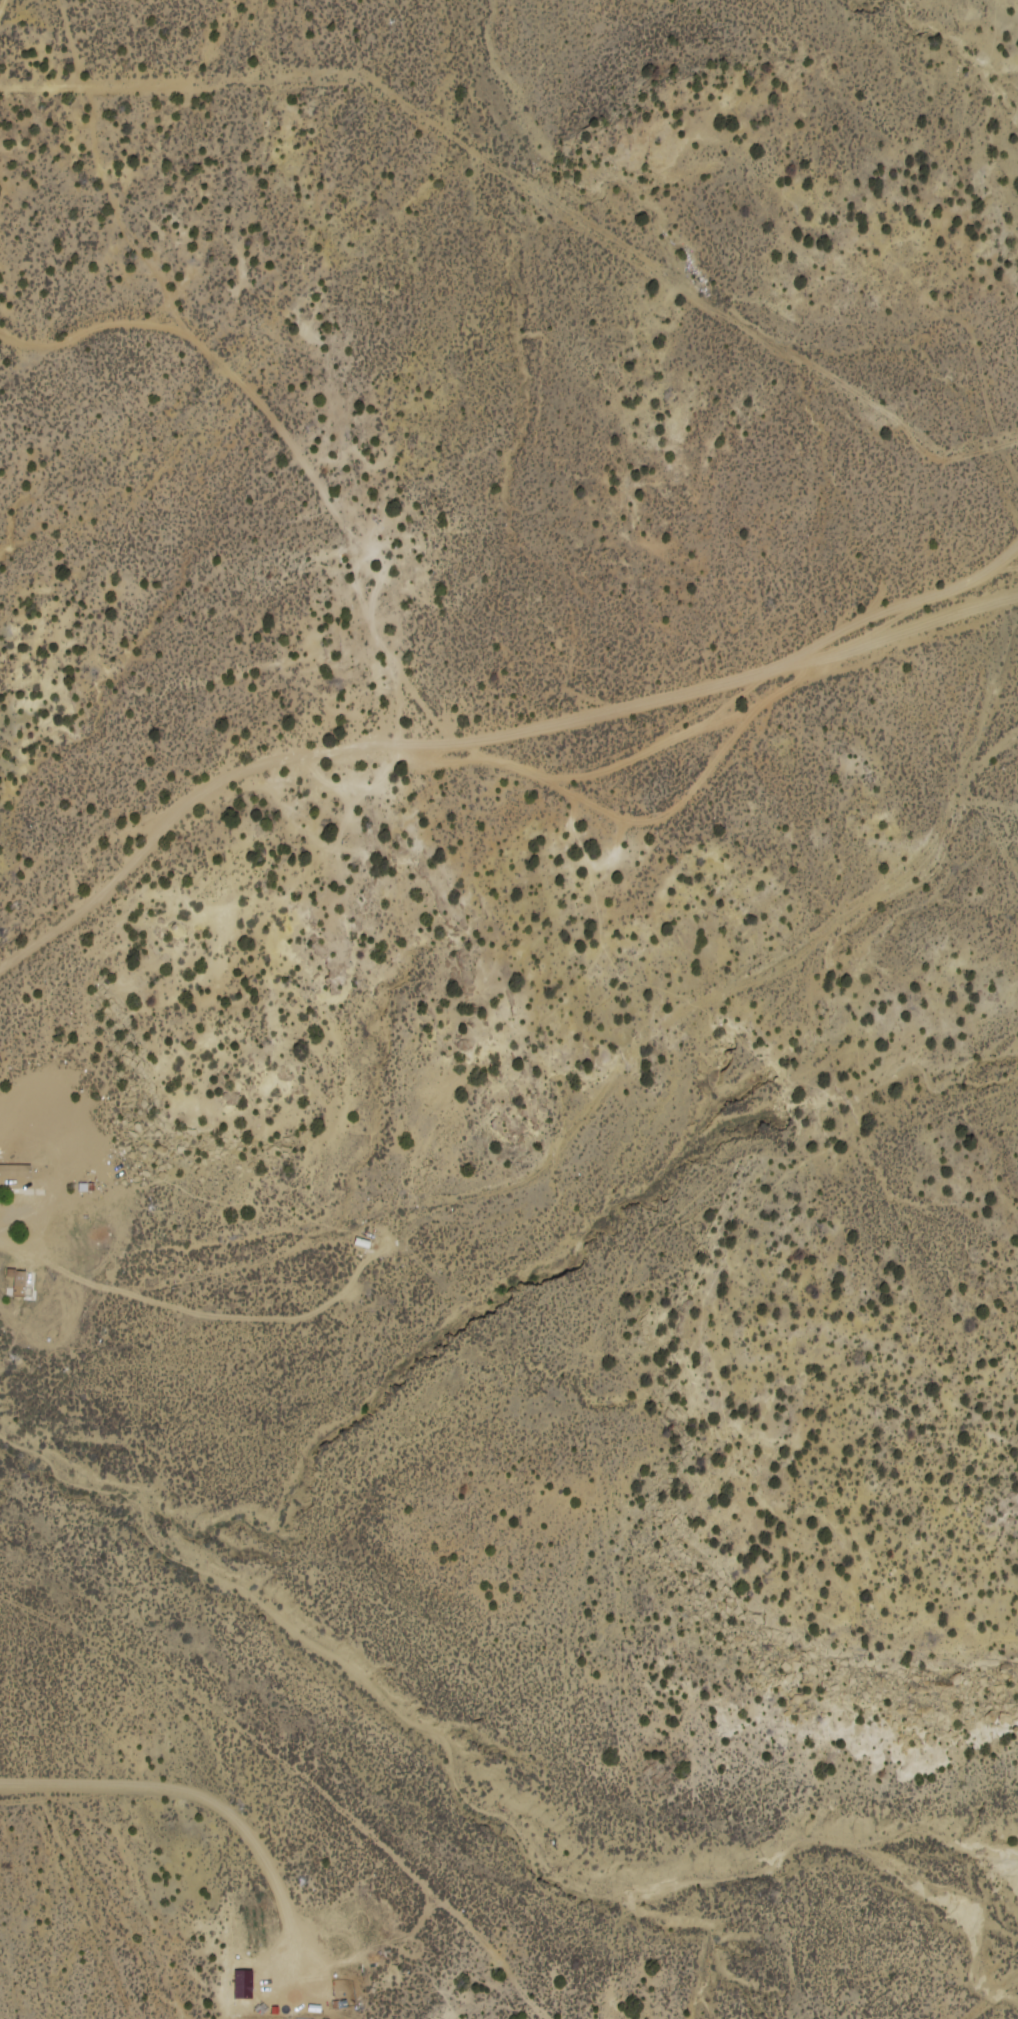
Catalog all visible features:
road: (19, 26)
road: (576, 47)
road: (478, 735)
building: (25, 1184)
road: (41, 1259)
road: (294, 1914)
building: (235, 1985)
road: (995, 2000)

